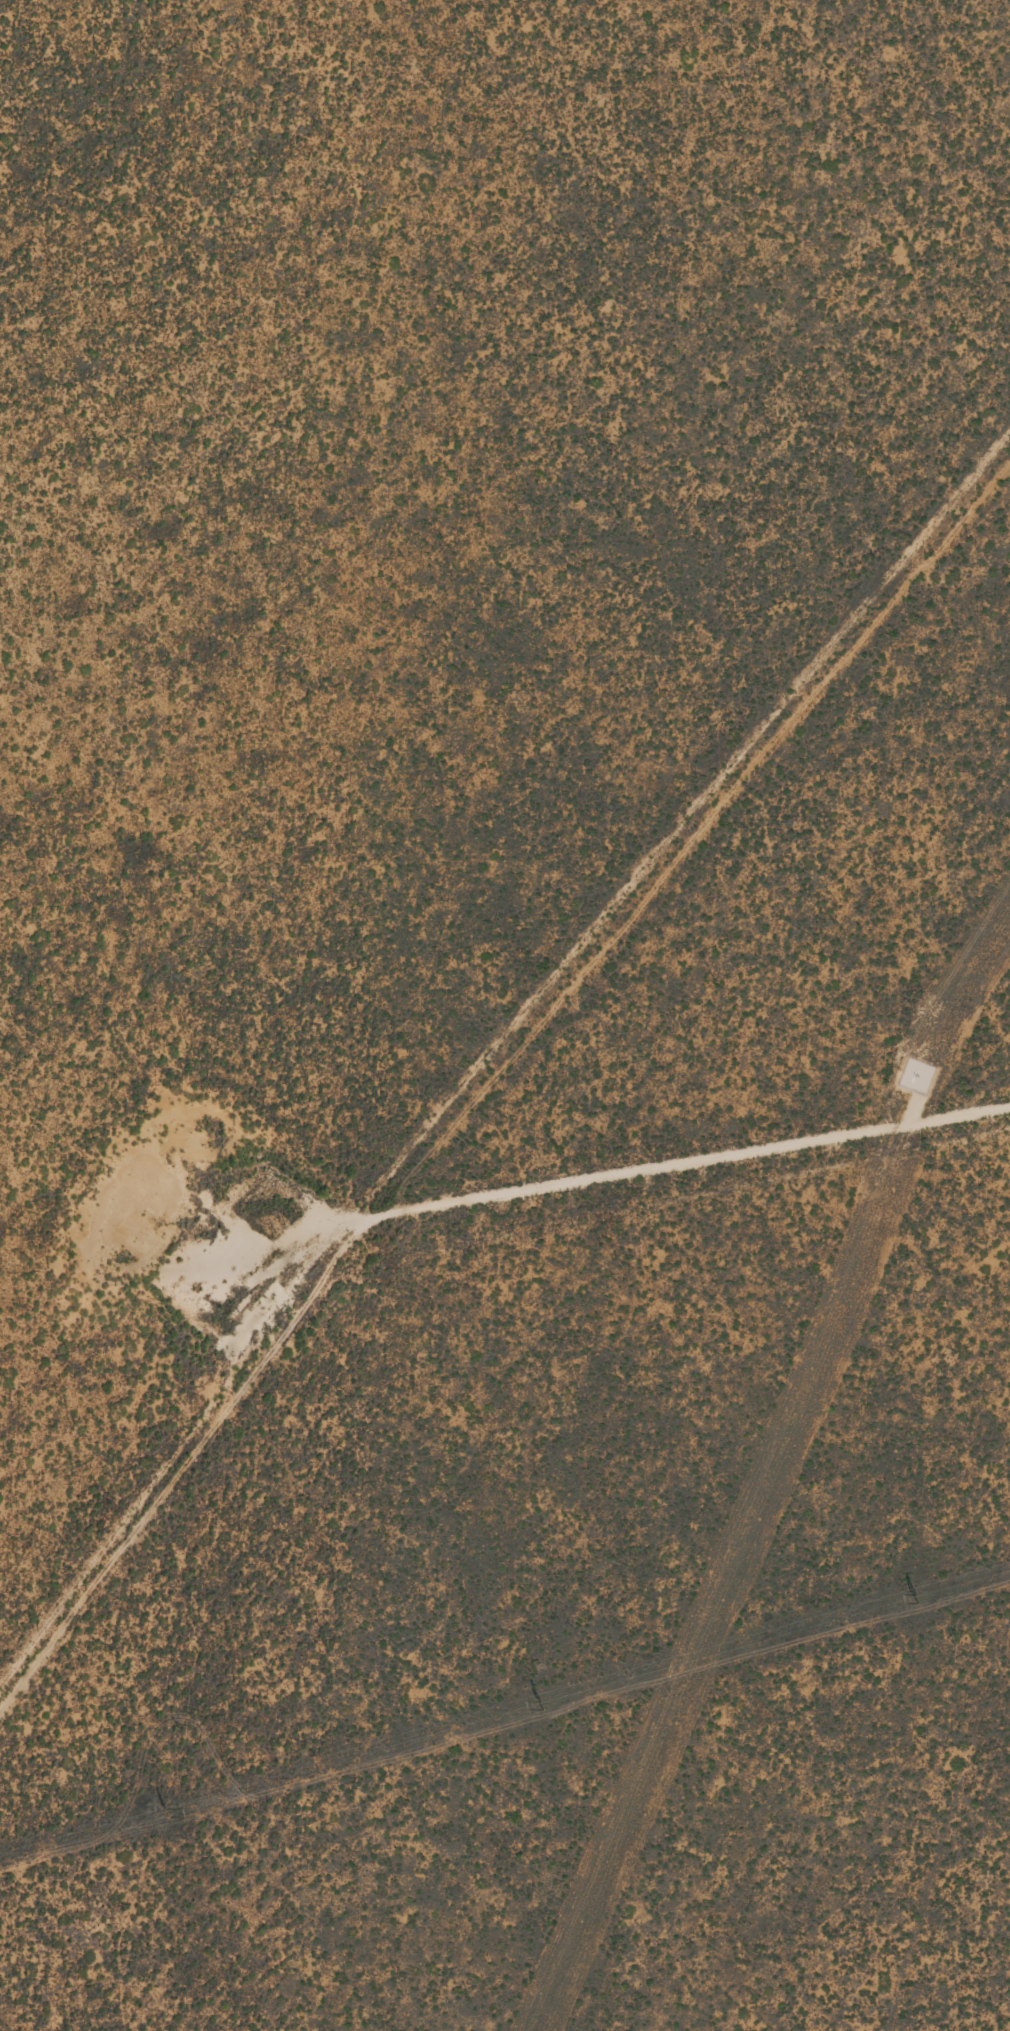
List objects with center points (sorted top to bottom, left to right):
power tower: (918, 1601)
power tower: (544, 1706)
power tower: (169, 1812)

